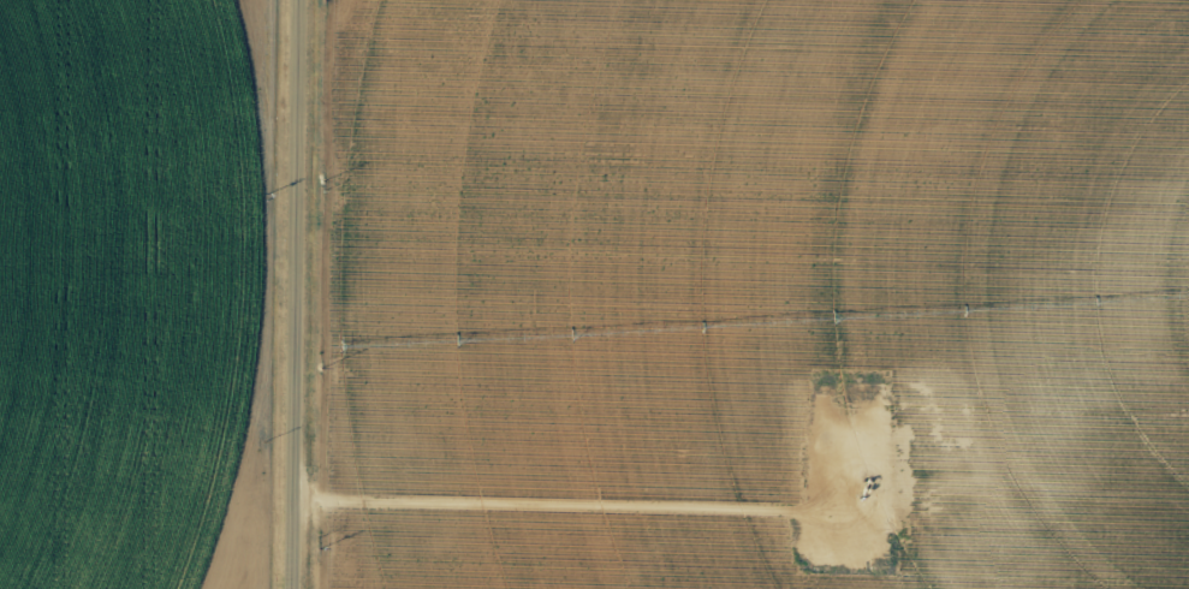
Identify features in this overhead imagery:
road: (296, 294)

